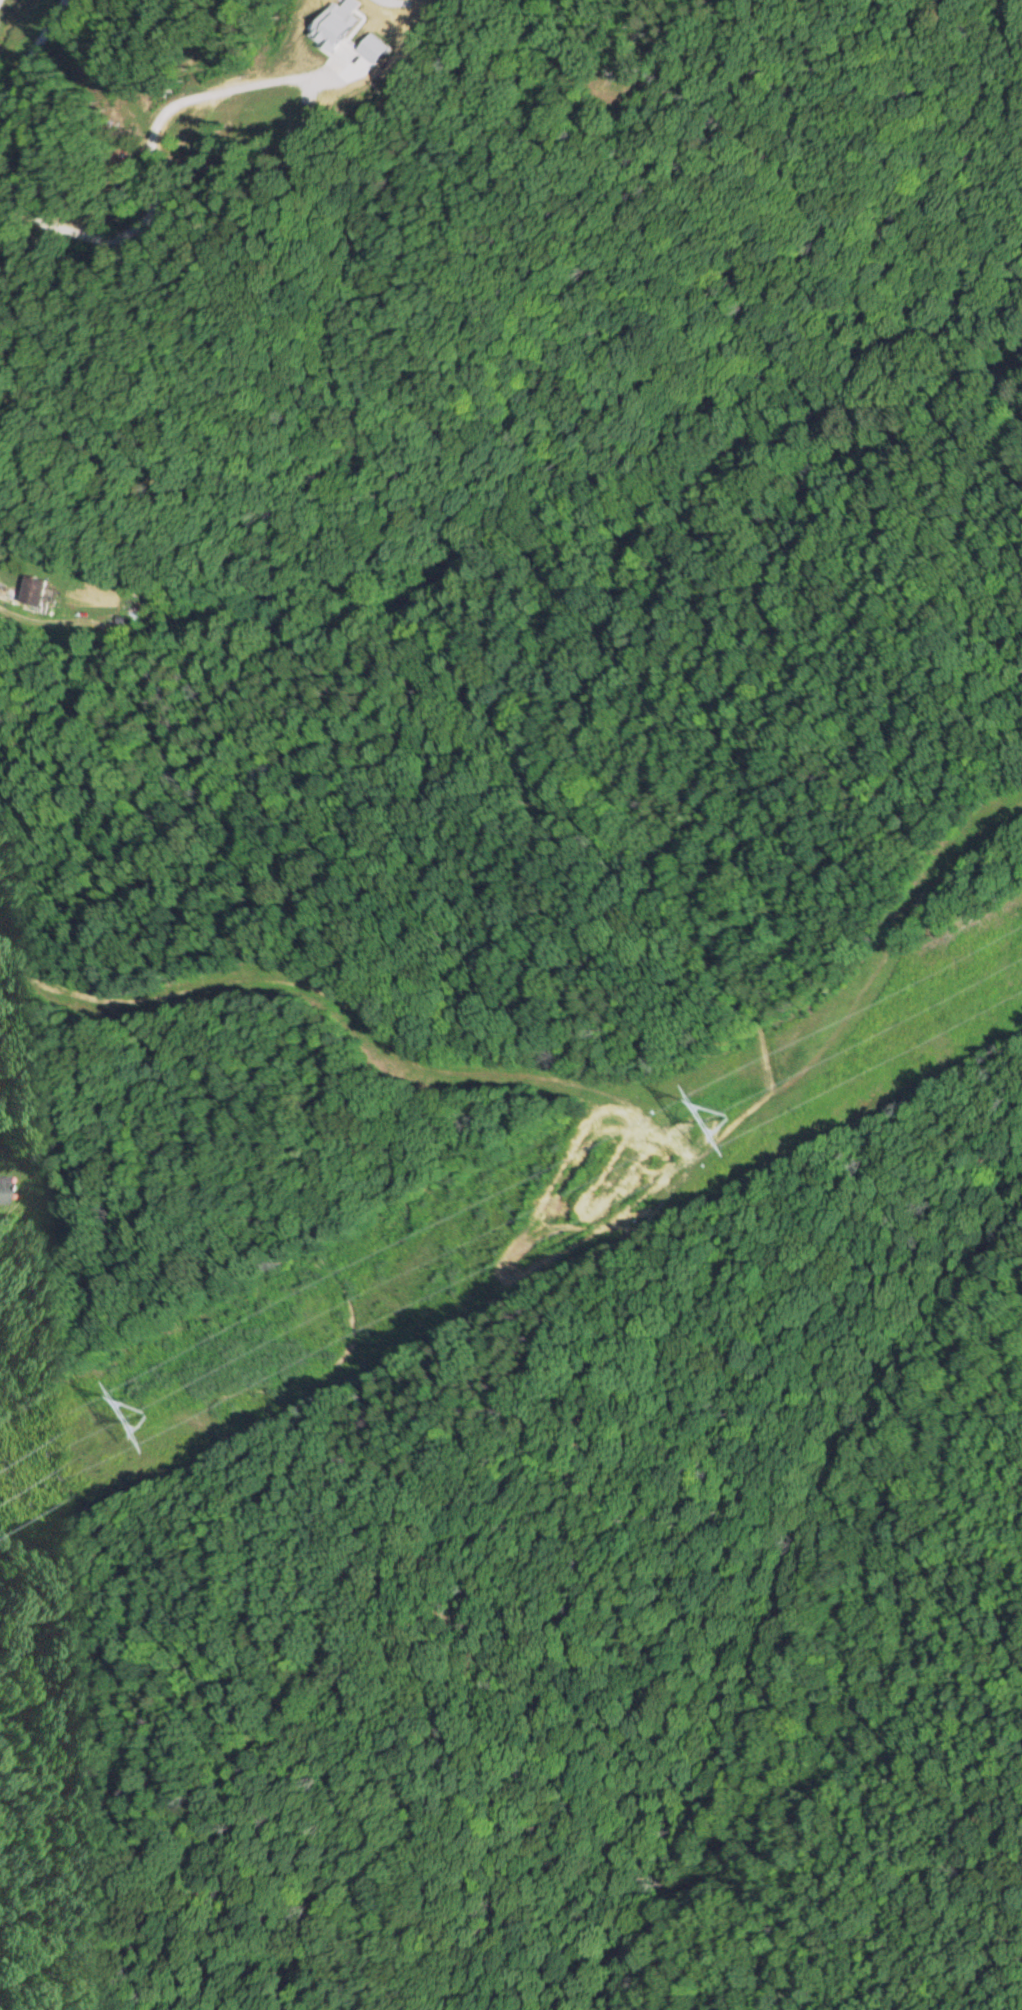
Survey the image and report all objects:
road: (79, 518)
building: (31, 588)
road: (237, 611)
power tower: (724, 1114)
power tower: (138, 1411)

